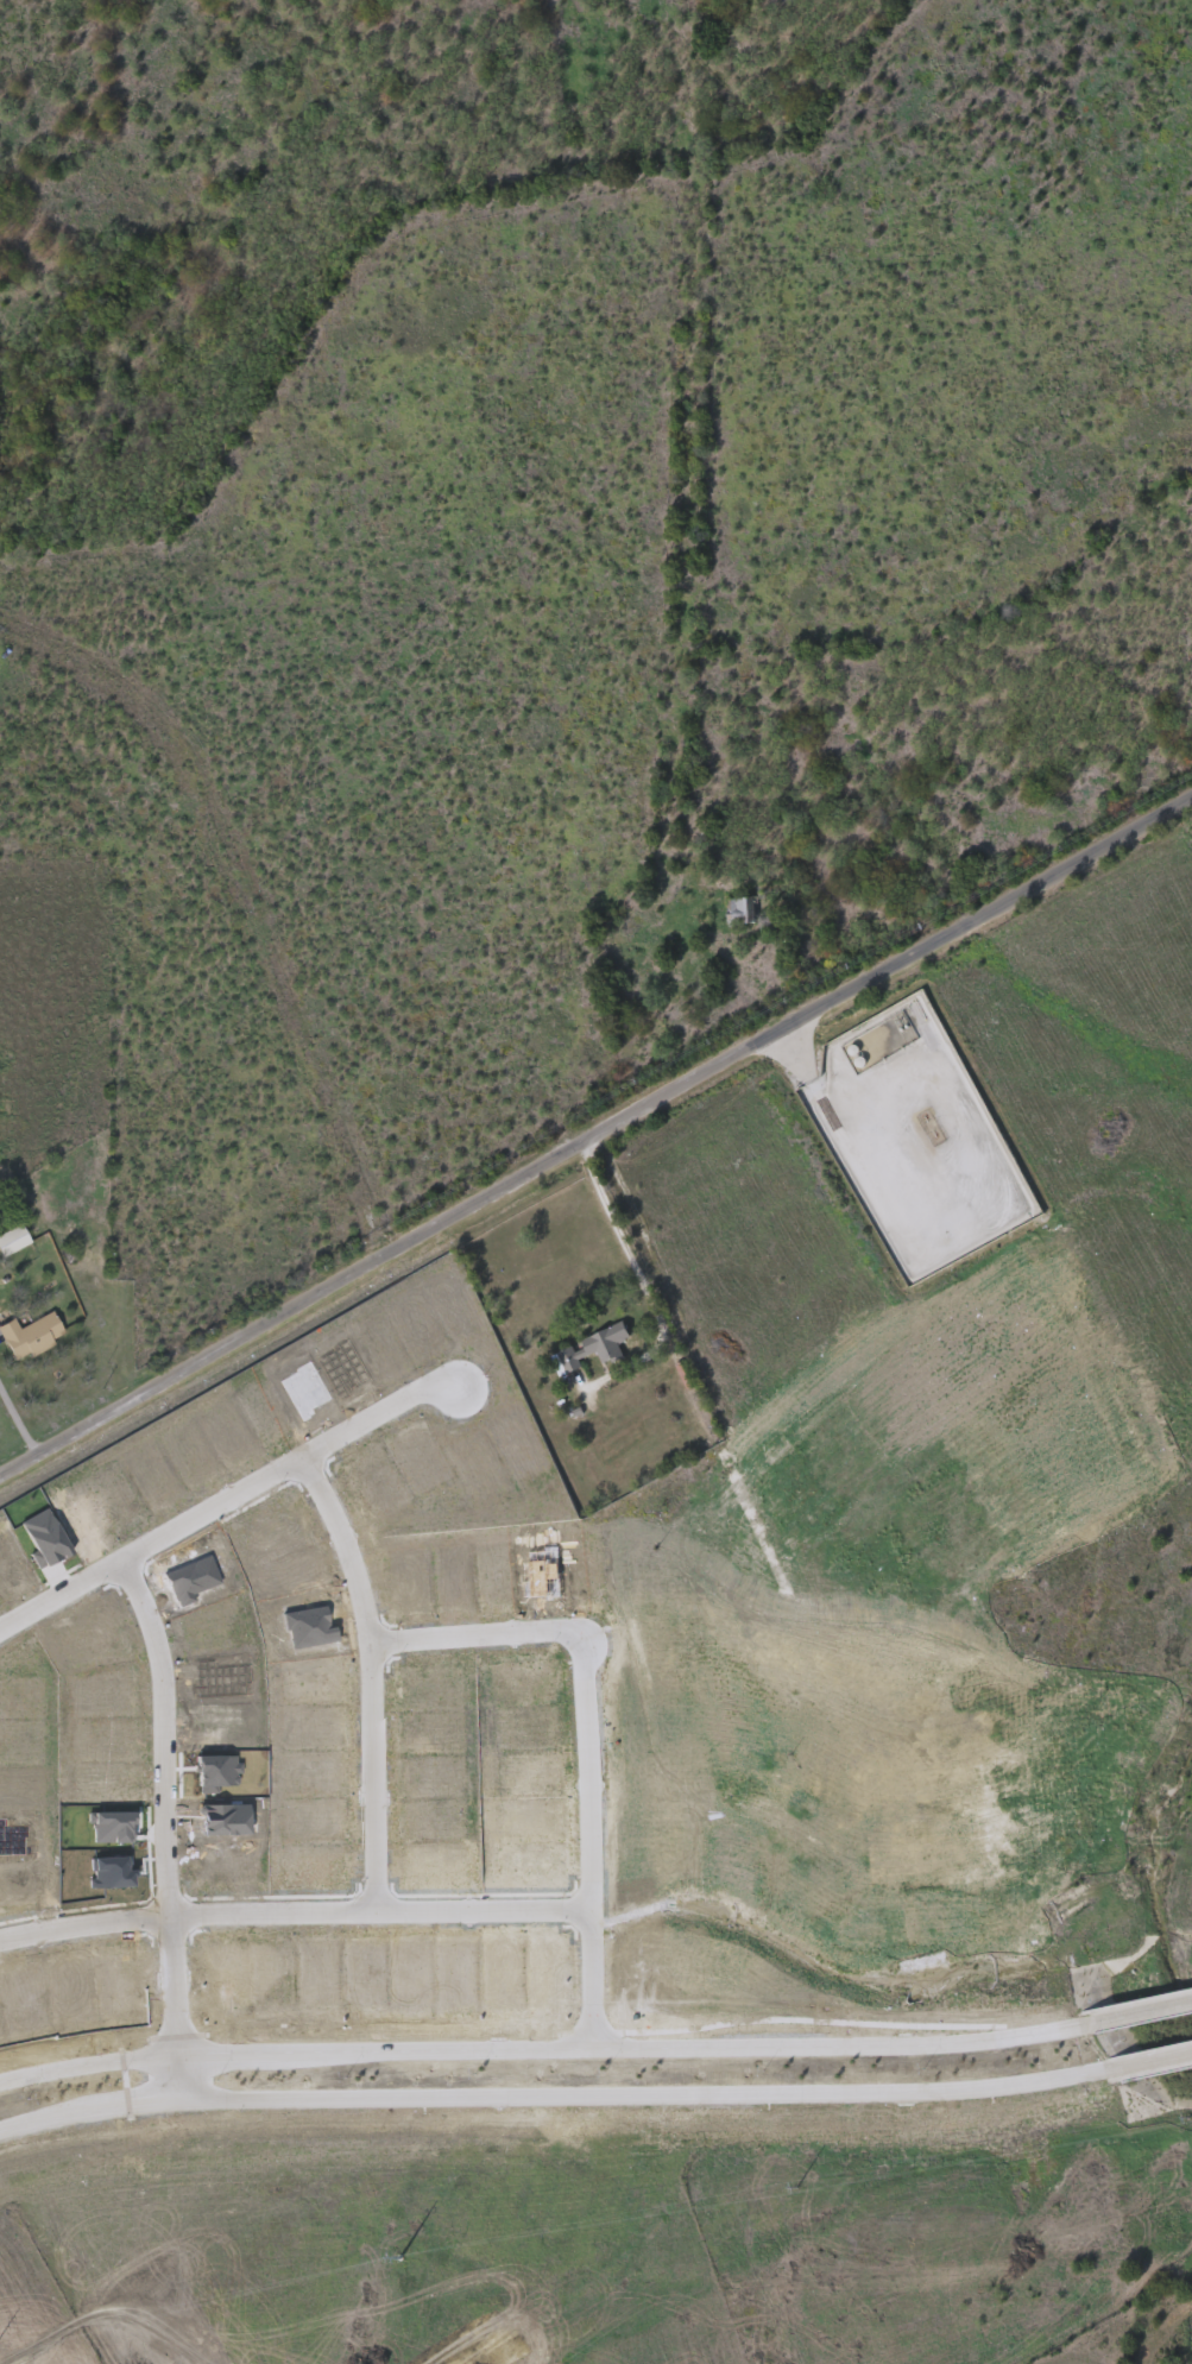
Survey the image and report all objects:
building: (742, 913)
road: (768, 997)
road: (597, 1149)
building: (13, 1241)
road: (629, 1243)
building: (450, 1301)
building: (417, 1330)
building: (377, 1348)
building: (593, 1349)
building: (343, 1368)
building: (307, 1391)
road: (391, 1407)
building: (269, 1411)
road: (20, 1423)
building: (232, 1435)
building: (195, 1452)
building: (421, 1457)
building: (473, 1461)
building: (157, 1482)
road: (225, 1502)
building: (282, 1527)
building: (49, 1538)
road: (360, 1540)
building: (12, 1561)
building: (544, 1575)
building: (297, 1577)
building: (500, 1578)
building: (194, 1582)
building: (455, 1583)
building: (408, 1586)
road: (67, 1591)
building: (310, 1627)
road: (488, 1632)
building: (99, 1637)
building: (316, 1677)
building: (223, 1681)
building: (428, 1691)
building: (18, 1696)
building: (113, 1697)
building: (319, 1726)
road: (177, 1727)
building: (18, 1746)
road: (600, 1764)
building: (217, 1772)
road: (387, 1773)
building: (12, 1792)
building: (222, 1818)
building: (113, 1828)
building: (13, 1840)
building: (113, 1873)
building: (14, 1886)
road: (498, 1906)
road: (289, 1909)
road: (93, 1923)
road: (605, 1973)
road: (188, 1980)
building: (72, 1988)
building: (30, 1991)
road: (1136, 2012)
road: (538, 2043)
road: (1141, 2059)
road: (191, 2070)
road: (543, 2092)

